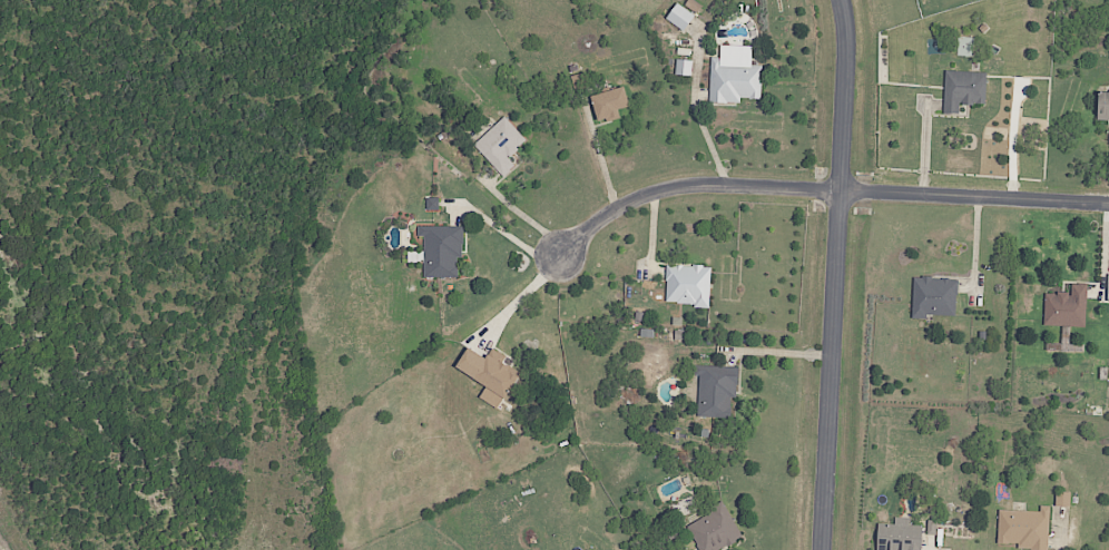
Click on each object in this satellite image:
building: (691, 6)
building: (679, 17)
building: (683, 67)
building: (734, 75)
building: (579, 81)
building: (963, 89)
building: (610, 102)
building: (1102, 106)
road: (704, 135)
building: (500, 145)
road: (599, 156)
road: (825, 185)
building: (432, 204)
road: (524, 215)
road: (506, 233)
road: (974, 242)
building: (441, 249)
road: (837, 274)
building: (687, 285)
road: (523, 295)
building: (933, 296)
building: (1066, 306)
road: (782, 351)
building: (488, 375)
building: (715, 390)
building: (1062, 499)
building: (1024, 528)
building: (714, 529)
building: (899, 536)
road: (1061, 541)

